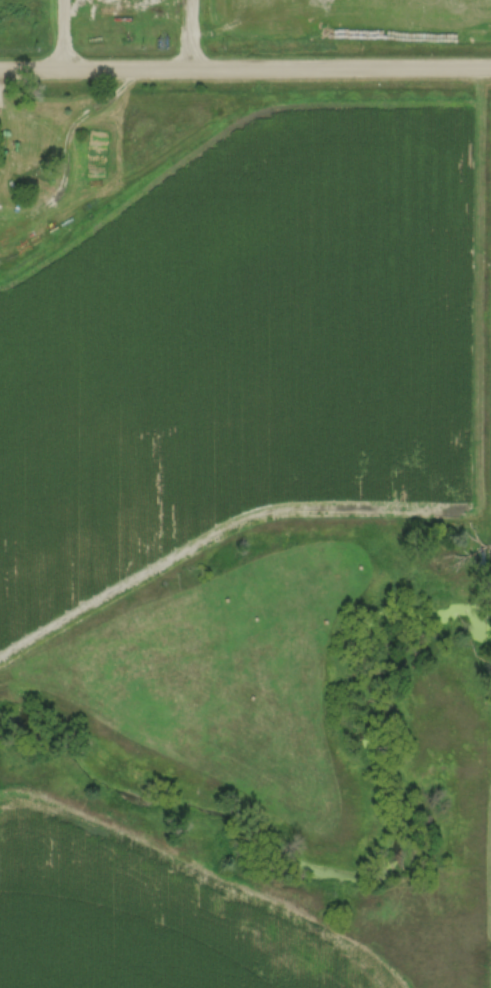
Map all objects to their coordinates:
road: (65, 34)
road: (194, 34)
road: (245, 67)
building: (28, 155)
crop: (238, 348)
crop: (489, 451)

